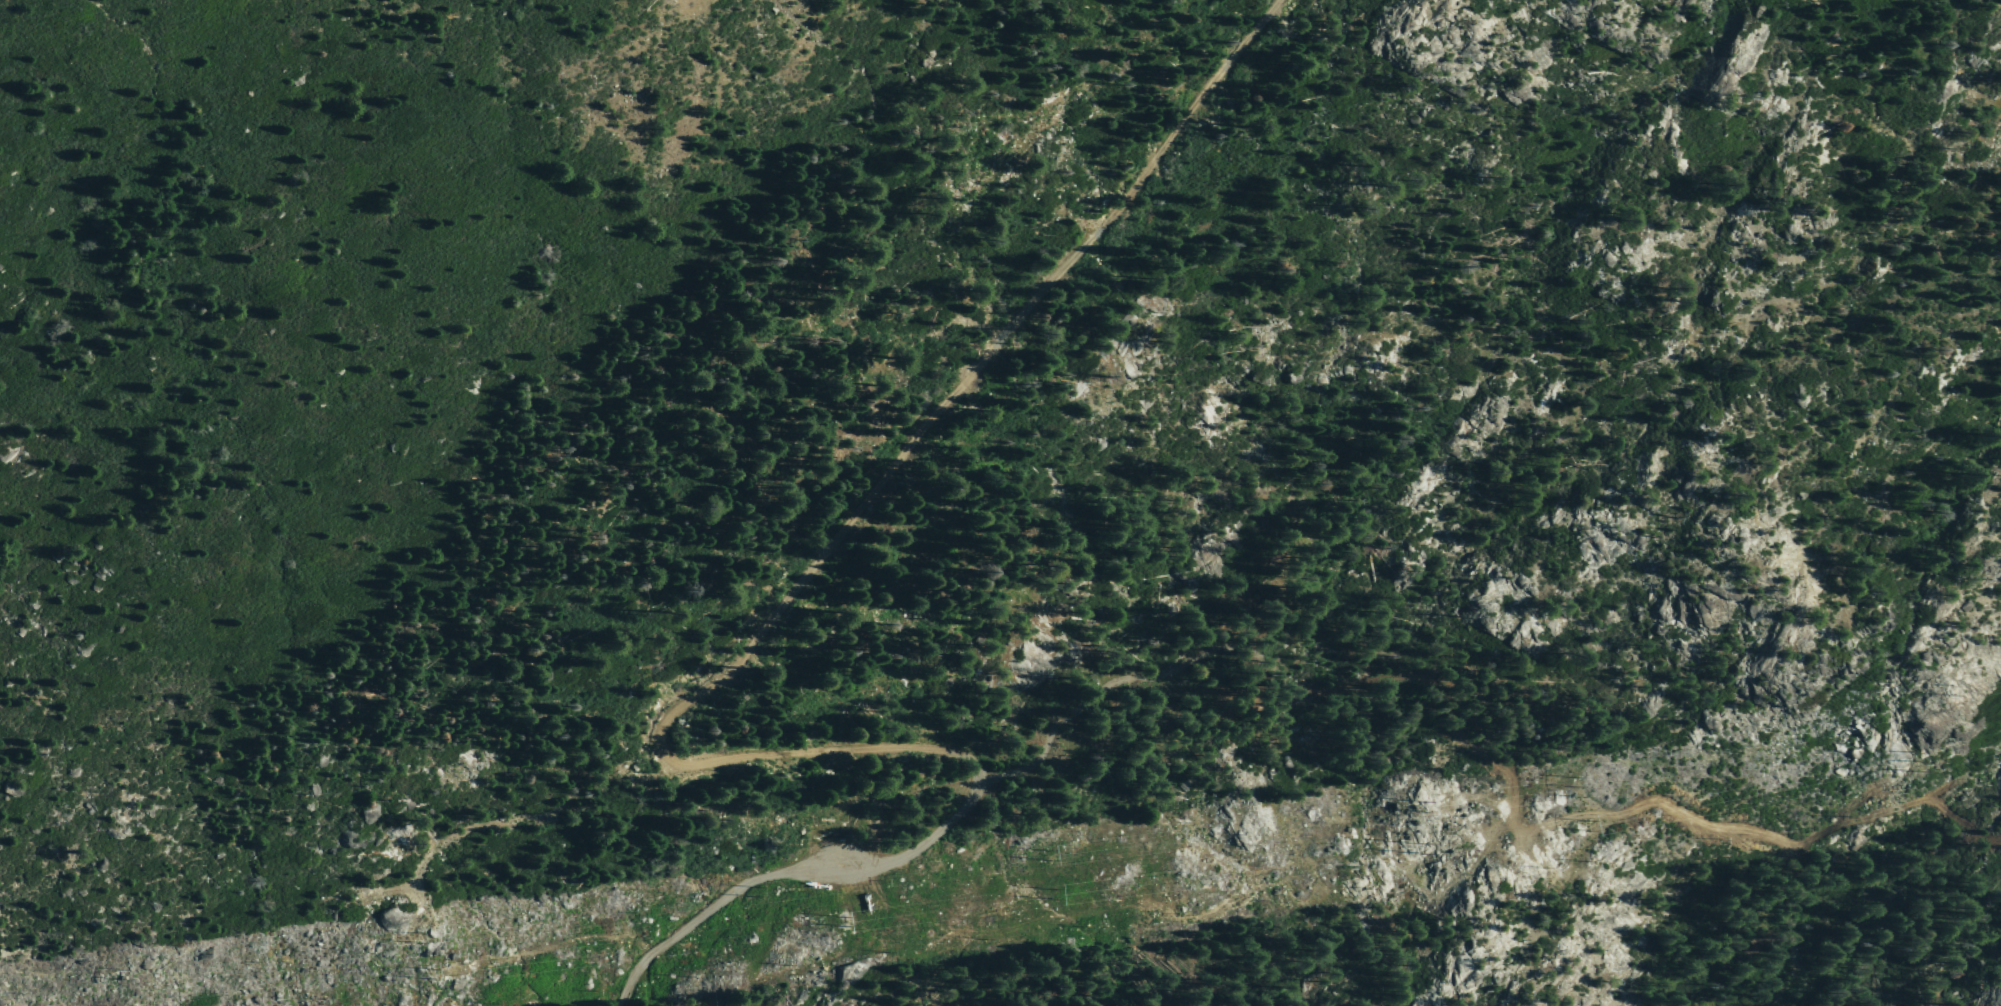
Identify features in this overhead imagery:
road: (671, 661)
power tower: (1938, 689)
power tower: (1908, 760)
power tower: (1570, 787)
power tower: (1414, 805)
power tower: (1580, 825)
power tower: (1417, 848)
power tower: (1041, 854)
power tower: (755, 893)
power tower: (1048, 894)
power tower: (834, 923)
power tower: (135, 972)

